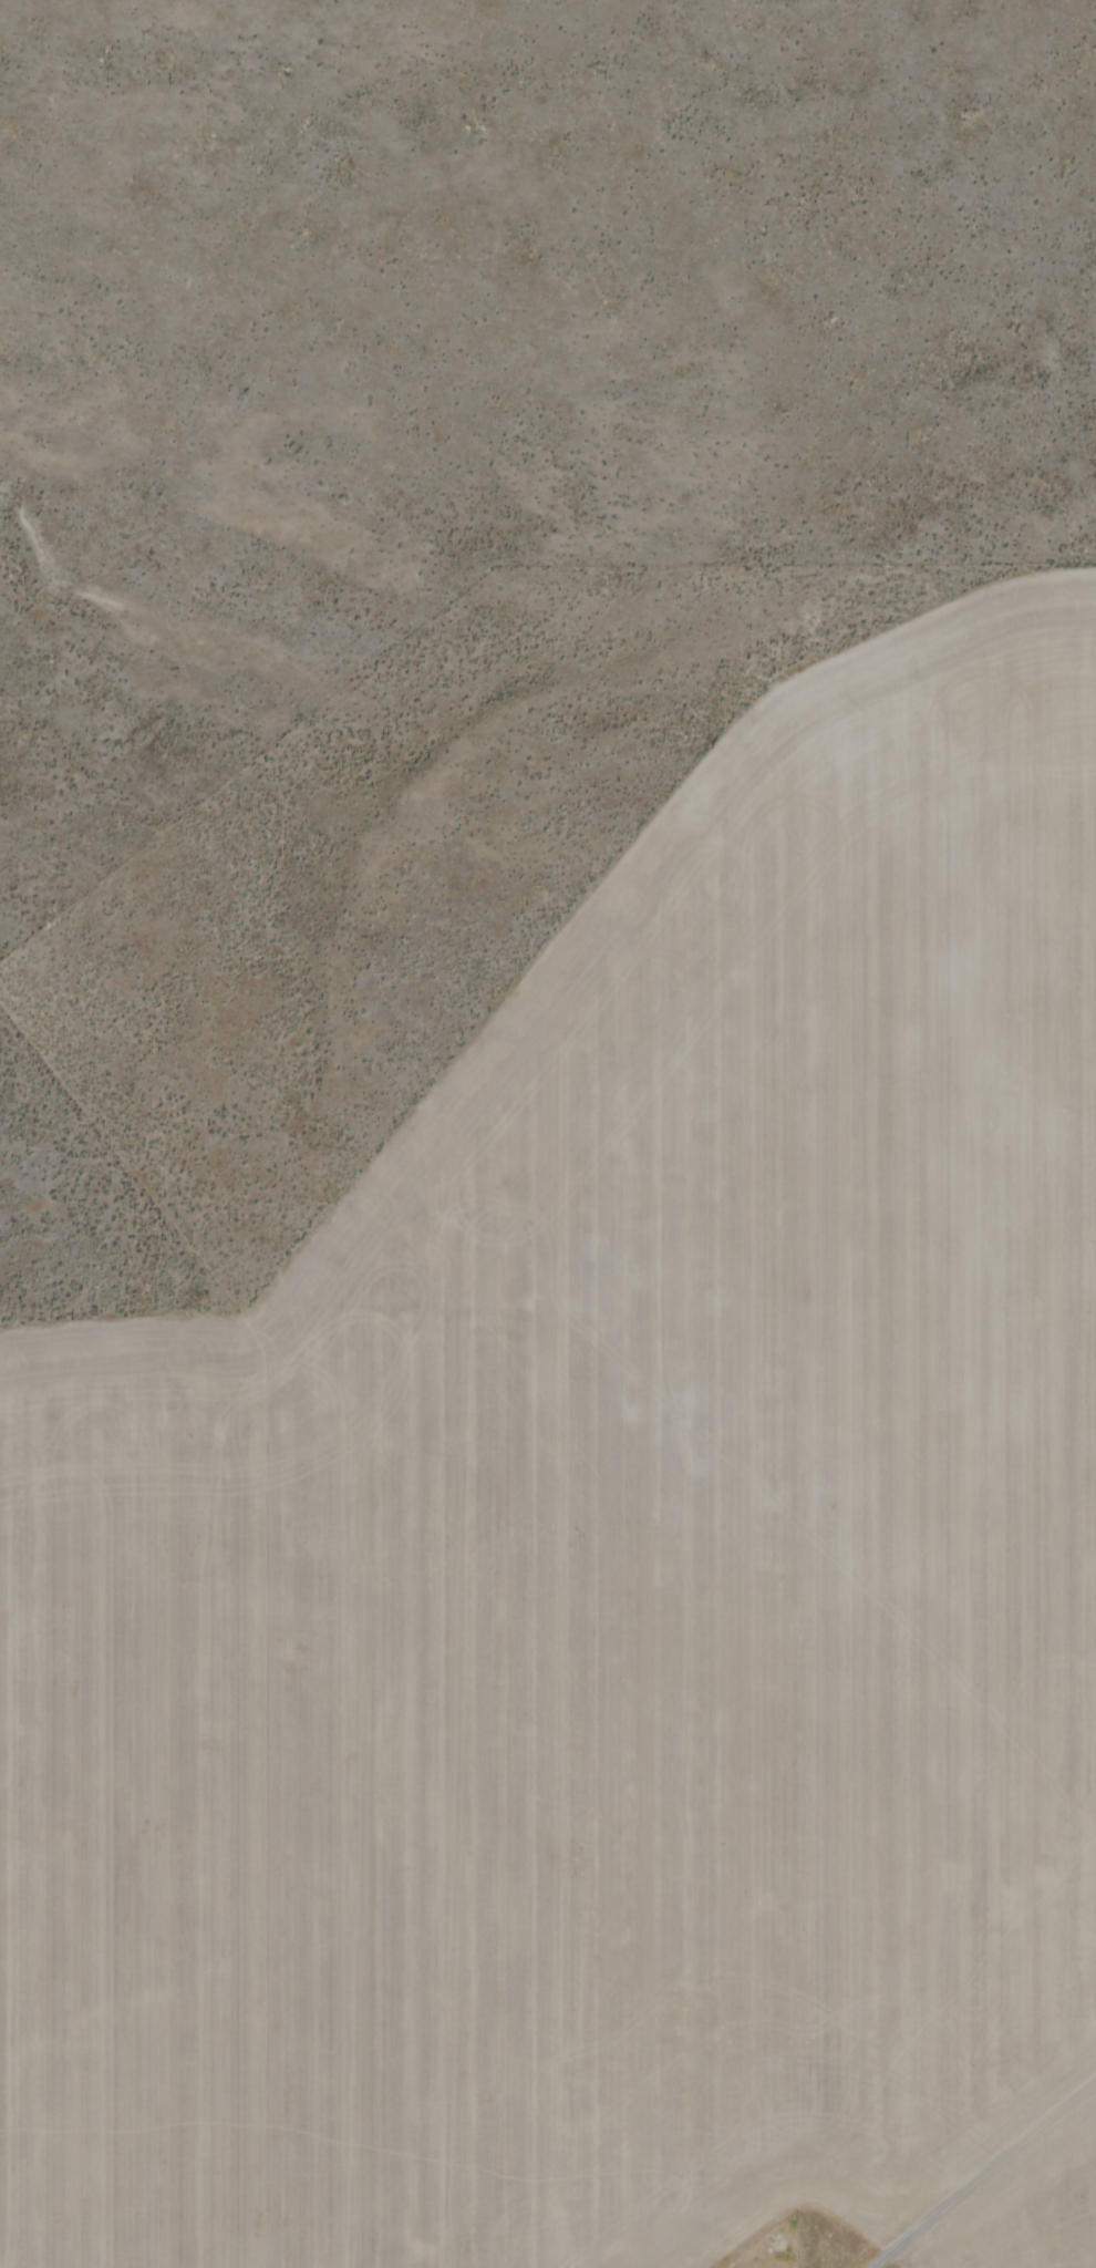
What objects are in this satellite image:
road: (985, 2176)

